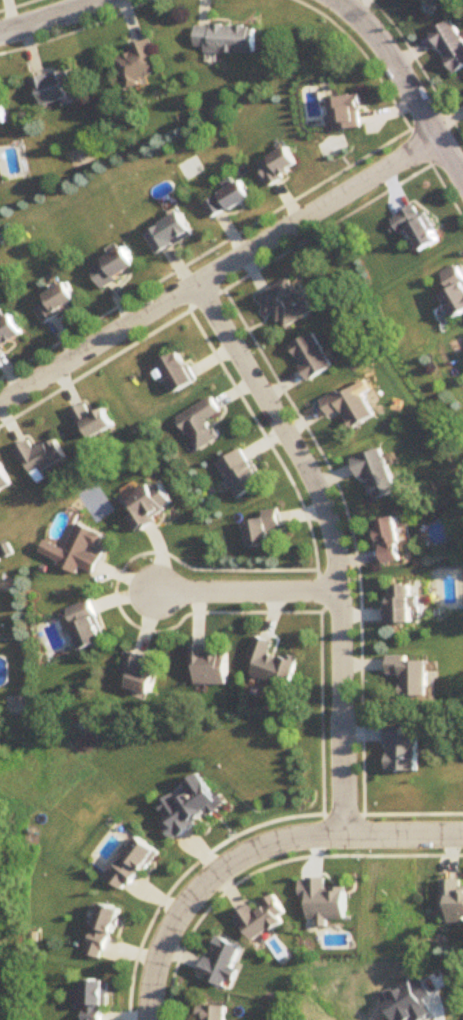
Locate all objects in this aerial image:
road: (48, 15)
building: (223, 39)
building: (450, 45)
building: (137, 65)
road: (407, 82)
building: (52, 88)
building: (345, 113)
building: (1, 114)
building: (276, 166)
building: (226, 200)
building: (414, 228)
building: (168, 233)
road: (219, 266)
building: (111, 268)
building: (453, 291)
building: (55, 303)
building: (285, 305)
building: (7, 331)
building: (311, 358)
building: (175, 372)
building: (350, 407)
building: (91, 422)
building: (200, 424)
road: (282, 429)
building: (38, 457)
building: (239, 473)
building: (375, 474)
building: (3, 482)
building: (147, 506)
building: (260, 530)
building: (389, 541)
building: (75, 550)
road: (246, 591)
building: (400, 606)
building: (84, 625)
building: (269, 664)
building: (207, 667)
building: (136, 674)
building: (409, 675)
road: (336, 709)
building: (186, 807)
road: (251, 846)
building: (129, 866)
building: (452, 900)
building: (259, 920)
building: (99, 933)
building: (220, 964)
building: (92, 1000)
building: (211, 1014)

